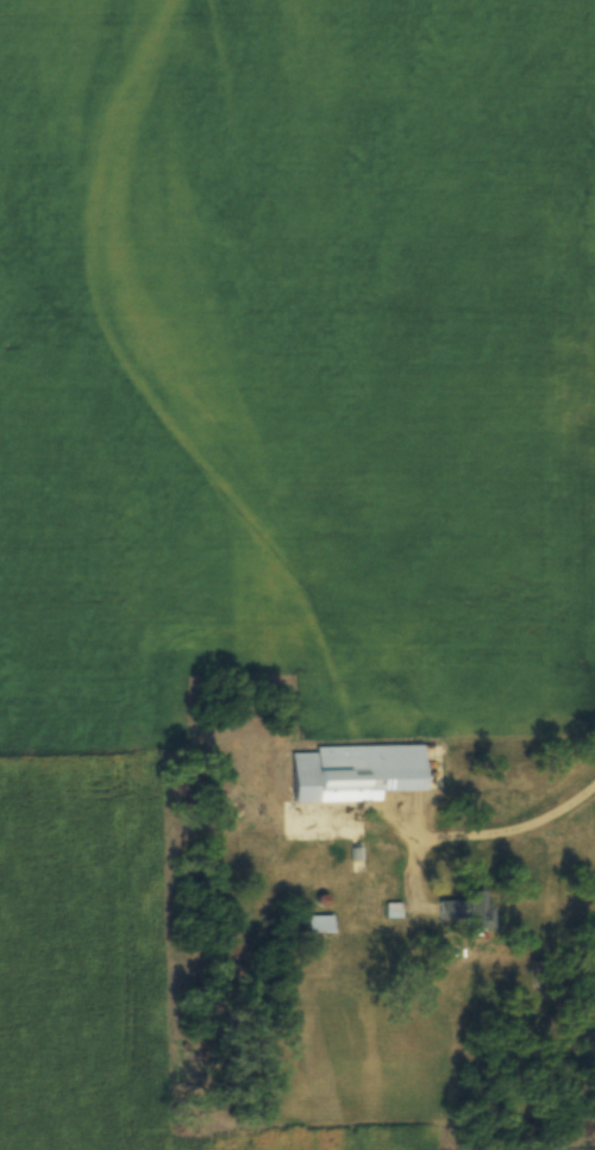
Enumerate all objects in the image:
building: (352, 768)
road: (589, 831)
building: (466, 907)
building: (319, 920)

